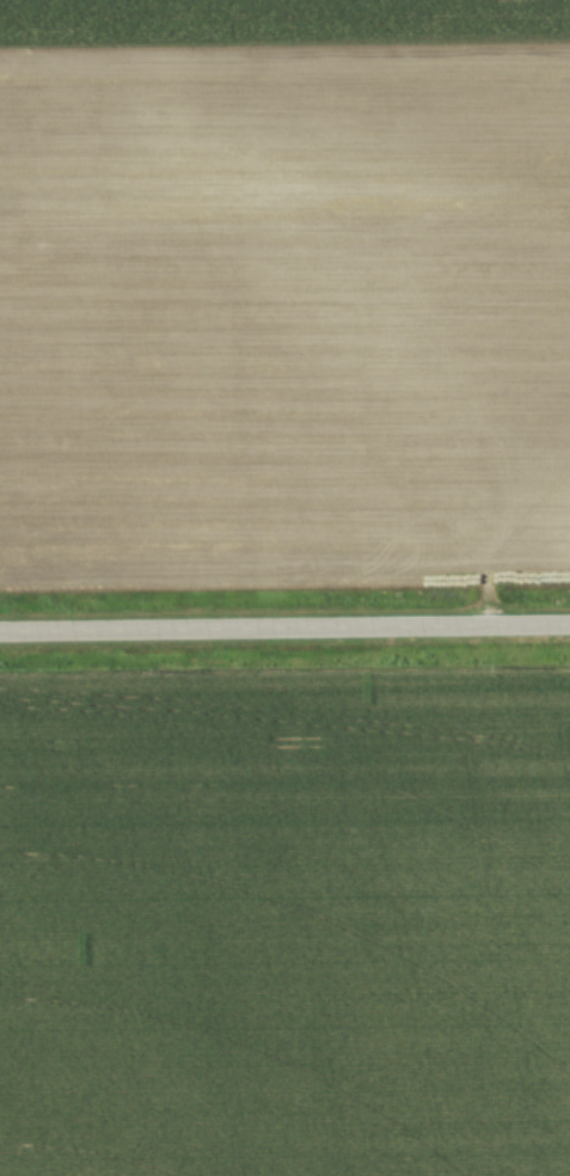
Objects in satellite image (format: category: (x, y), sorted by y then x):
crop: (284, 293)
road: (284, 626)
crop: (286, 925)

